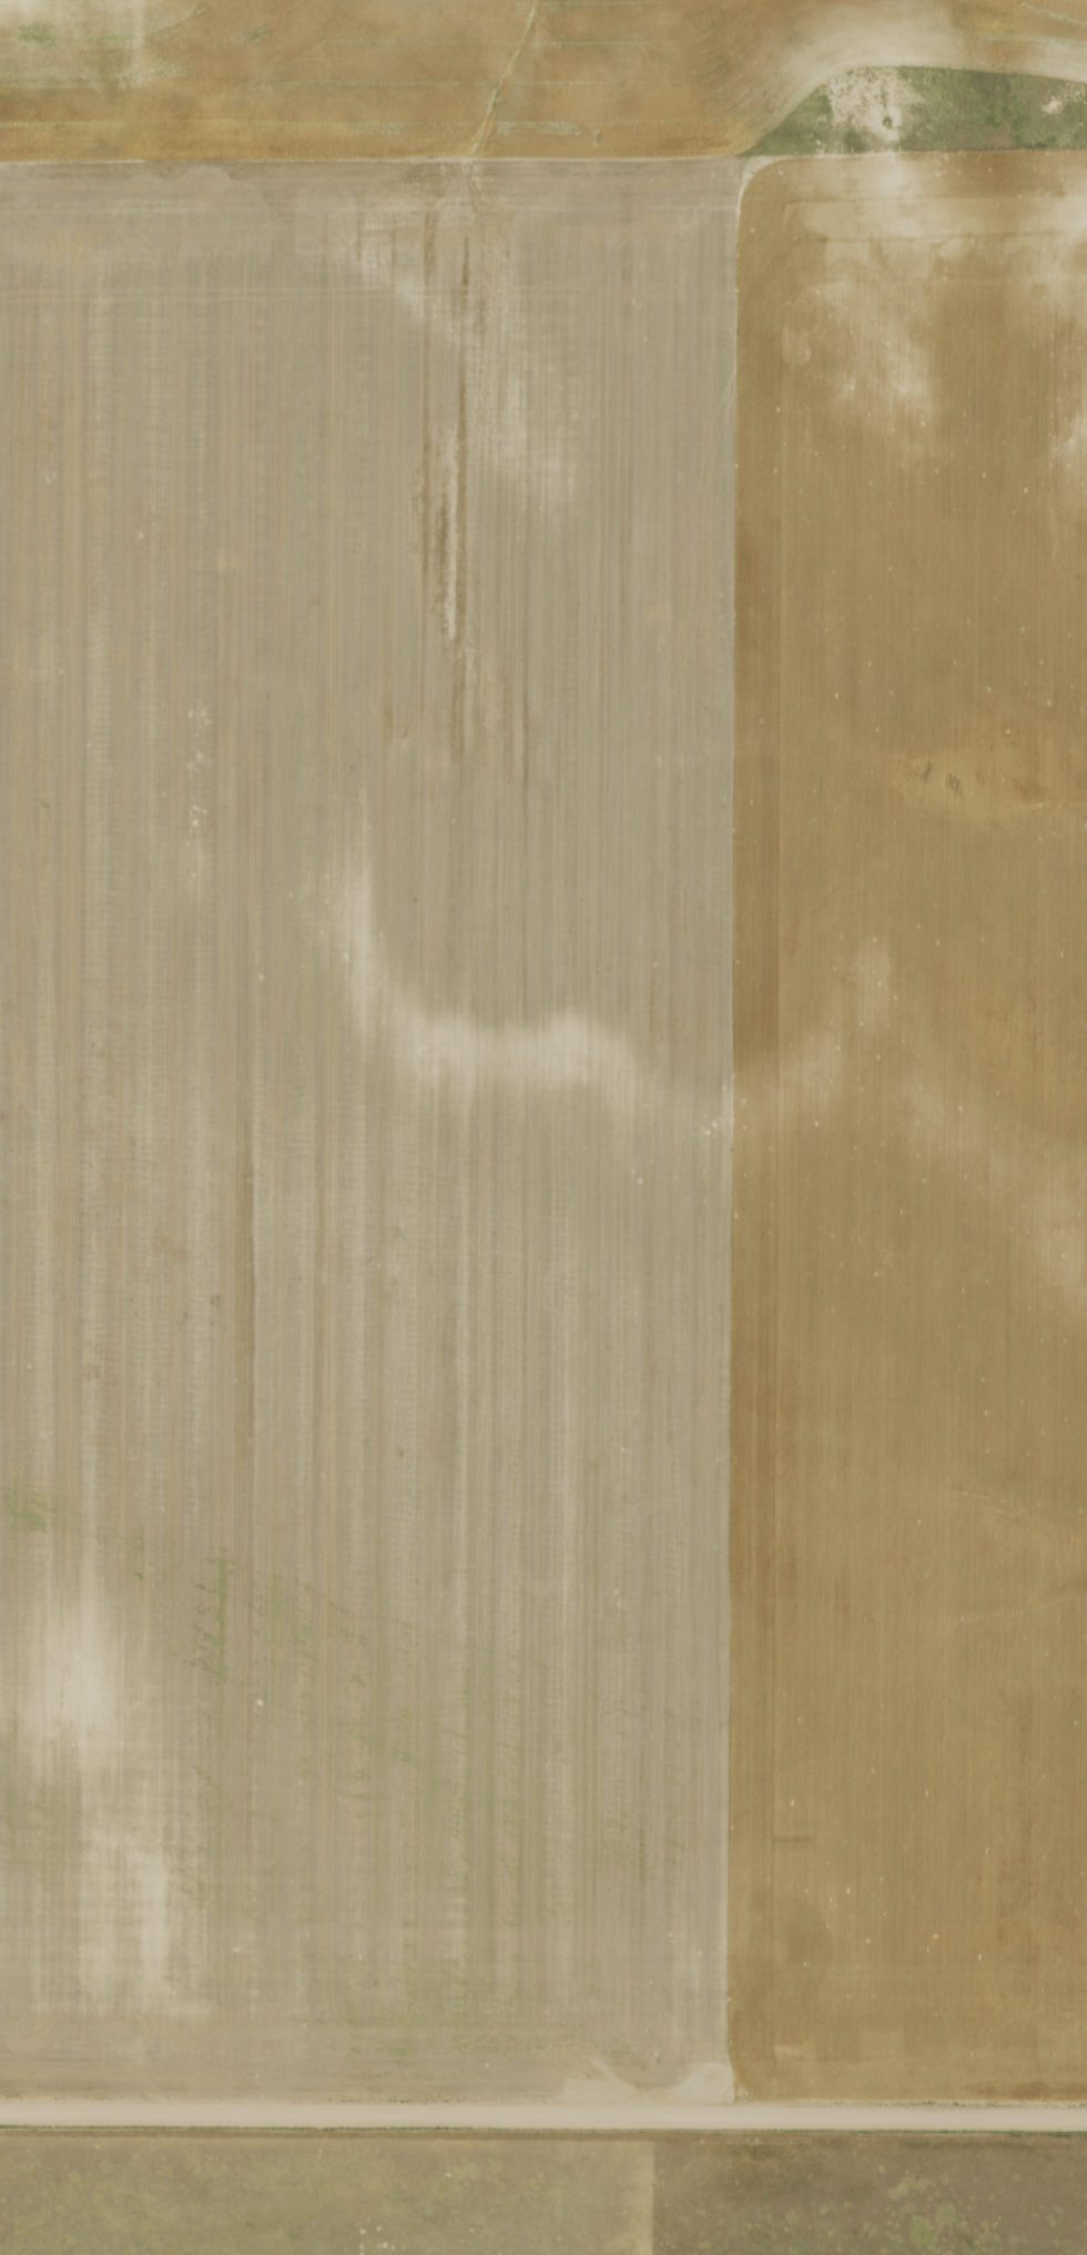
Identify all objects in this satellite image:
road: (542, 2117)

